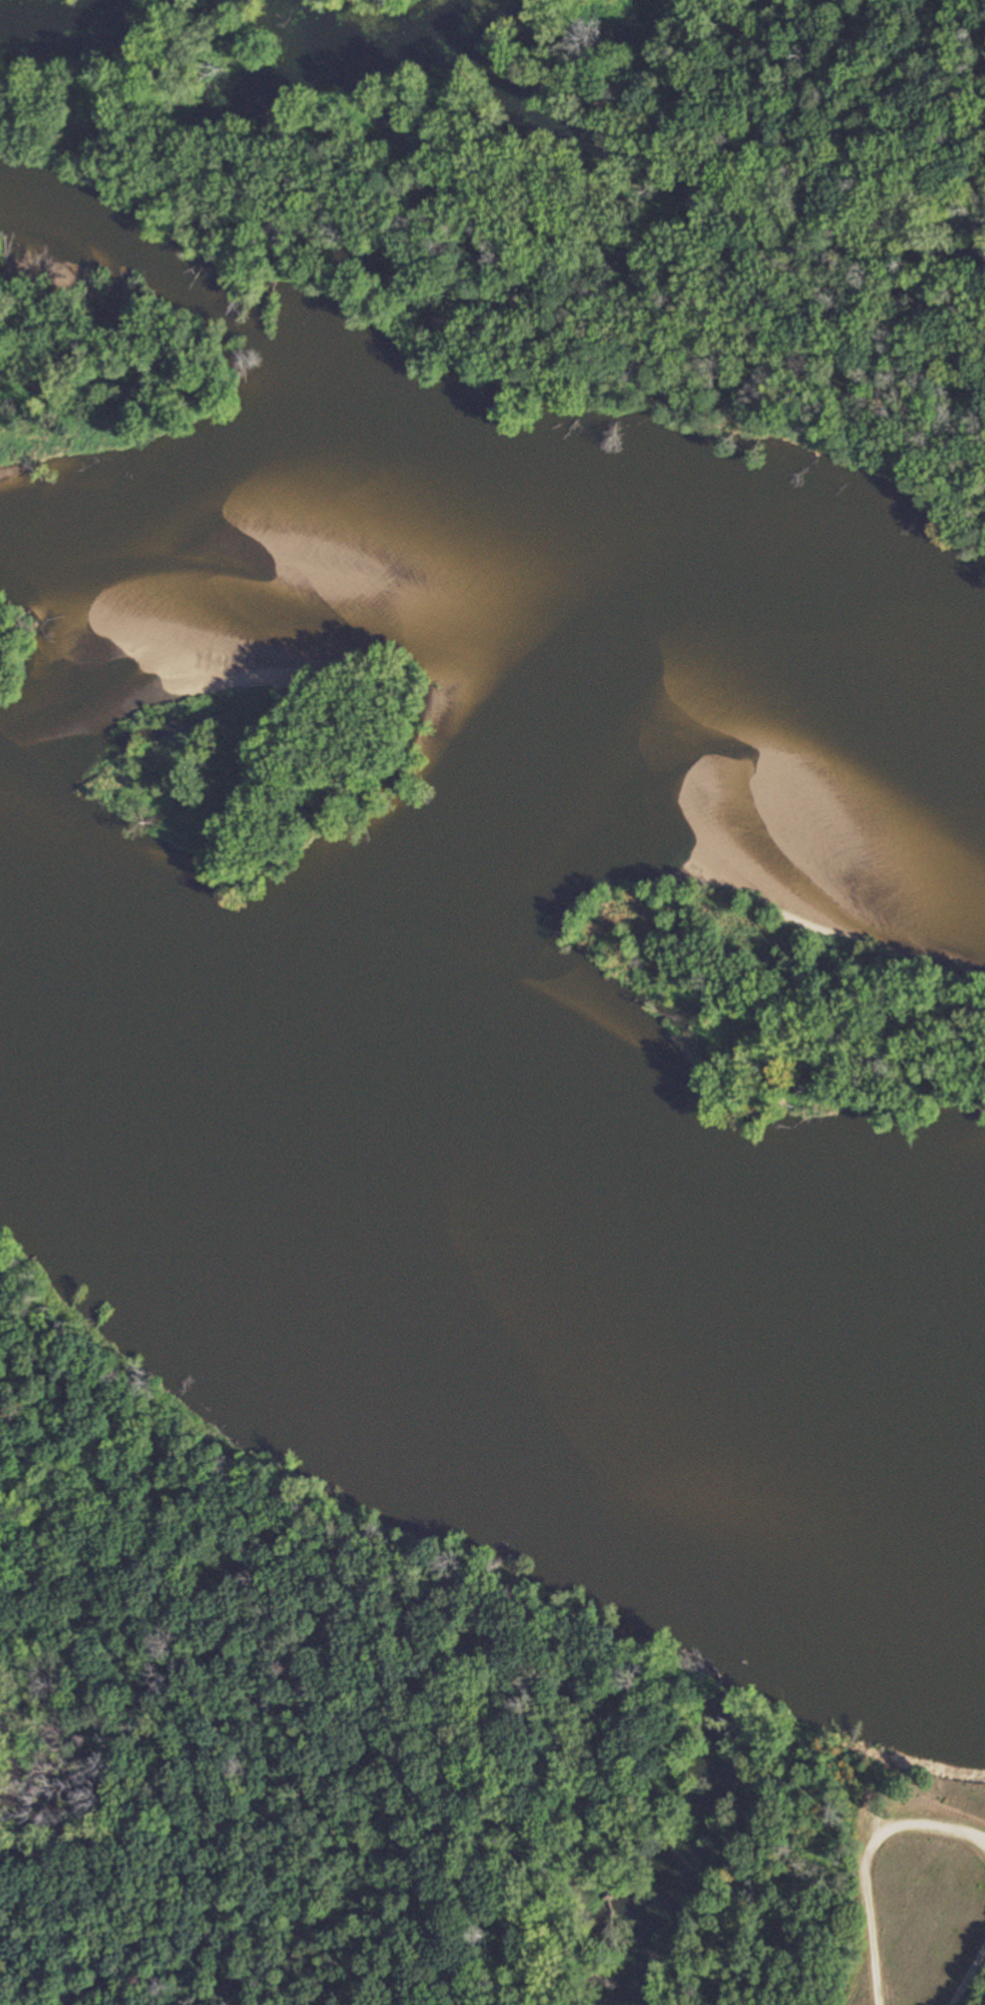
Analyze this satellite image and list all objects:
river: (486, 1172)
road: (868, 1862)
road: (828, 1967)
road: (971, 1975)

